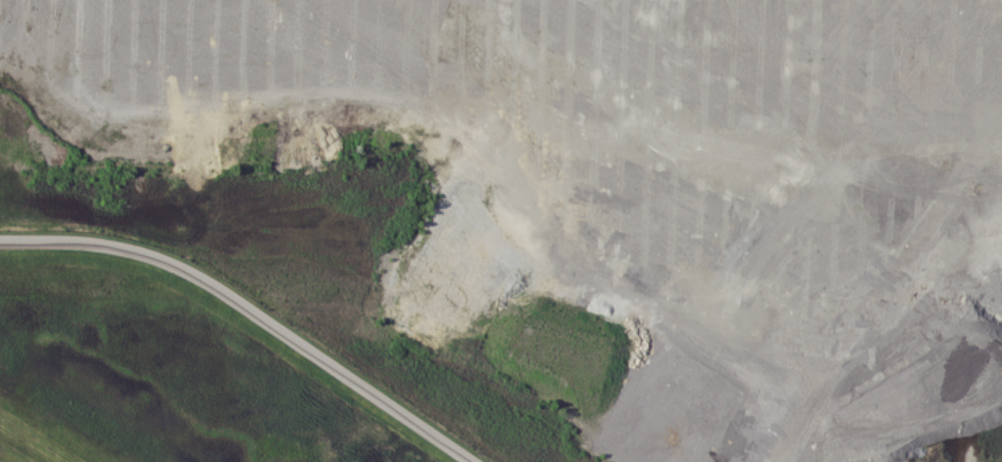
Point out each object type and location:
road: (249, 311)
airport: (176, 367)

